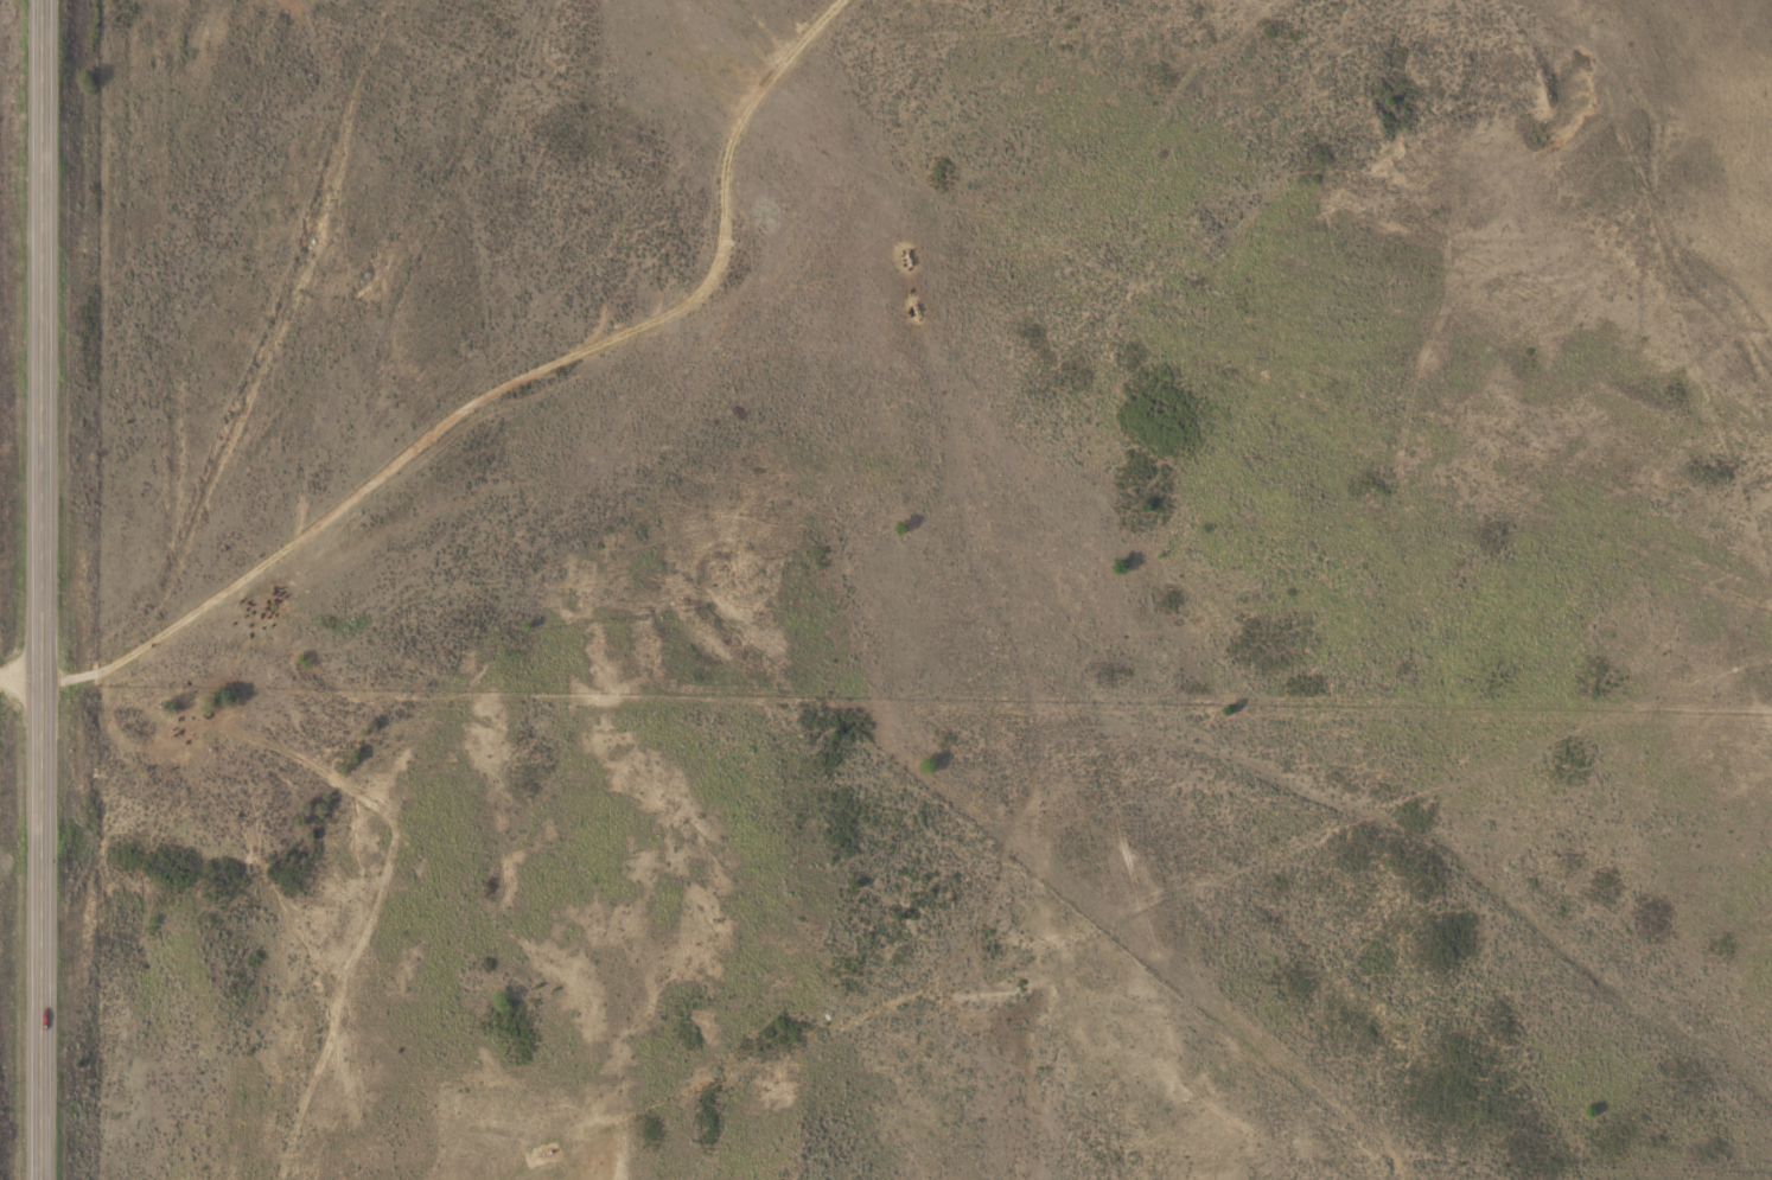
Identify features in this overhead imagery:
road: (38, 589)

